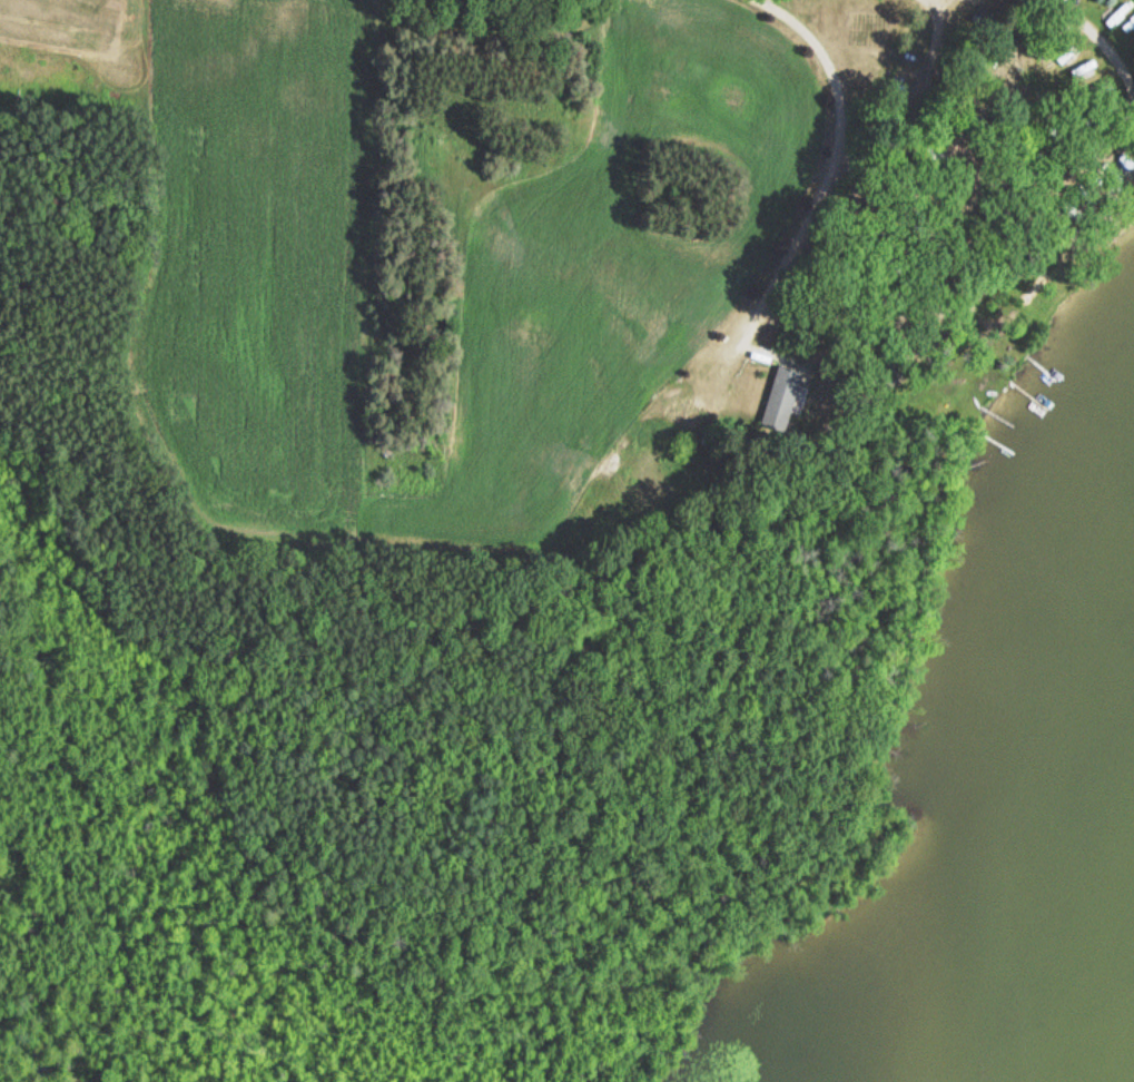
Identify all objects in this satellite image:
road: (1009, 26)
road: (681, 37)
building: (781, 392)

